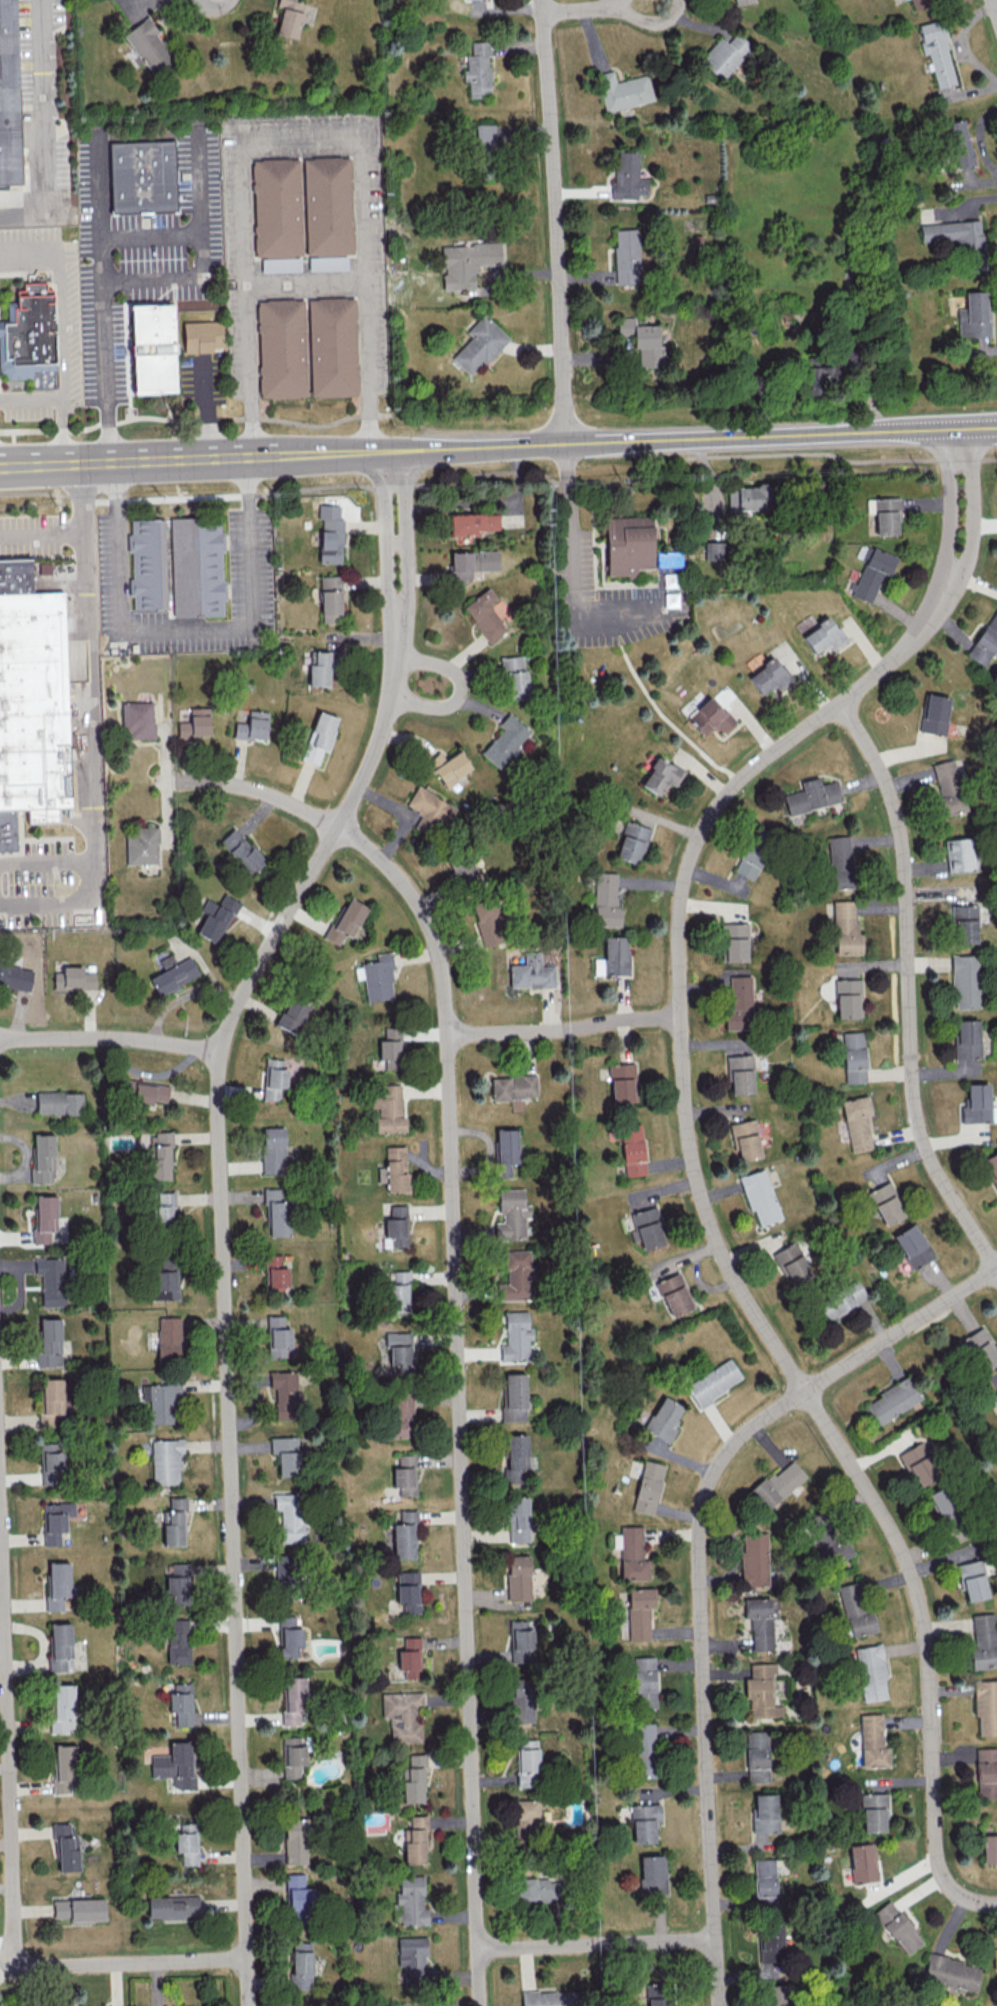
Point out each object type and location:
building: (742, 1)
building: (921, 3)
road: (597, 7)
road: (994, 7)
building: (289, 17)
building: (148, 45)
building: (937, 52)
building: (724, 55)
building: (477, 69)
building: (623, 90)
building: (8, 96)
road: (44, 129)
road: (303, 131)
building: (485, 136)
building: (959, 143)
building: (628, 175)
building: (150, 181)
building: (337, 211)
building: (285, 212)
road: (554, 221)
road: (198, 233)
building: (959, 239)
building: (626, 256)
building: (327, 262)
building: (468, 263)
building: (281, 264)
road: (167, 277)
road: (308, 280)
road: (104, 304)
building: (974, 315)
road: (65, 325)
building: (29, 327)
building: (643, 341)
building: (209, 342)
building: (479, 345)
building: (157, 353)
building: (341, 353)
building: (289, 354)
building: (817, 377)
road: (209, 410)
road: (194, 421)
road: (63, 430)
road: (11, 436)
road: (700, 438)
road: (394, 450)
road: (379, 451)
road: (751, 454)
road: (186, 458)
road: (988, 458)
road: (957, 459)
road: (487, 472)
road: (566, 481)
road: (393, 484)
road: (186, 497)
building: (749, 497)
road: (947, 506)
road: (969, 510)
building: (884, 514)
road: (386, 522)
building: (473, 523)
building: (330, 533)
road: (40, 536)
road: (405, 537)
road: (396, 543)
building: (625, 544)
building: (714, 550)
building: (471, 563)
road: (573, 566)
building: (196, 567)
building: (873, 573)
building: (330, 598)
road: (394, 608)
building: (485, 615)
road: (185, 630)
building: (823, 635)
building: (985, 641)
building: (322, 668)
building: (769, 676)
building: (513, 677)
road: (85, 681)
road: (459, 689)
building: (32, 698)
building: (934, 714)
building: (709, 716)
building: (137, 719)
building: (195, 723)
building: (252, 726)
building: (319, 736)
building: (505, 741)
building: (448, 766)
building: (660, 775)
building: (948, 788)
building: (812, 795)
building: (430, 812)
building: (632, 842)
building: (141, 845)
building: (241, 850)
building: (958, 854)
road: (44, 859)
building: (840, 862)
building: (463, 870)
building: (606, 900)
road: (46, 903)
building: (215, 917)
building: (346, 920)
building: (487, 922)
building: (964, 923)
building: (846, 928)
building: (735, 942)
building: (613, 957)
building: (531, 972)
building: (173, 973)
building: (15, 977)
building: (376, 977)
building: (73, 978)
building: (964, 981)
road: (908, 989)
building: (848, 998)
building: (738, 1002)
building: (291, 1015)
road: (565, 1031)
building: (967, 1038)
road: (110, 1039)
building: (390, 1047)
building: (854, 1056)
building: (740, 1073)
building: (273, 1078)
building: (621, 1082)
building: (513, 1089)
building: (145, 1092)
building: (59, 1102)
building: (978, 1104)
building: (387, 1107)
building: (857, 1122)
building: (746, 1139)
building: (273, 1149)
building: (632, 1149)
building: (505, 1151)
building: (159, 1155)
building: (43, 1159)
building: (991, 1166)
building: (395, 1168)
building: (760, 1197)
building: (886, 1203)
building: (165, 1208)
building: (276, 1211)
building: (512, 1213)
building: (44, 1218)
building: (395, 1227)
building: (647, 1228)
road: (715, 1235)
building: (912, 1245)
building: (792, 1264)
building: (275, 1275)
building: (515, 1276)
building: (51, 1279)
building: (165, 1285)
building: (398, 1292)
road: (224, 1294)
building: (674, 1294)
building: (840, 1300)
road: (454, 1311)
building: (516, 1336)
building: (277, 1337)
building: (170, 1338)
building: (49, 1343)
building: (979, 1349)
building: (399, 1352)
building: (713, 1382)
building: (996, 1393)
building: (285, 1394)
building: (514, 1397)
building: (892, 1400)
building: (161, 1402)
building: (55, 1404)
building: (400, 1414)
building: (664, 1418)
building: (286, 1454)
building: (515, 1457)
building: (166, 1461)
building: (920, 1463)
building: (52, 1467)
building: (405, 1475)
building: (778, 1483)
building: (648, 1487)
building: (941, 1502)
building: (289, 1516)
building: (518, 1518)
building: (55, 1521)
building: (173, 1522)
building: (404, 1535)
building: (827, 1537)
building: (631, 1552)
building: (754, 1561)
road: (700, 1562)
building: (286, 1568)
building: (518, 1577)
building: (972, 1580)
building: (178, 1584)
building: (57, 1585)
building: (408, 1590)
building: (856, 1610)
building: (640, 1612)
building: (285, 1621)
building: (760, 1622)
building: (177, 1640)
building: (290, 1641)
building: (521, 1641)
building: (983, 1642)
building: (60, 1647)
building: (410, 1657)
building: (871, 1672)
building: (644, 1682)
building: (761, 1690)
building: (292, 1699)
building: (521, 1700)
building: (181, 1703)
building: (985, 1706)
building: (62, 1708)
building: (403, 1715)
building: (872, 1741)
building: (643, 1750)
building: (292, 1756)
building: (756, 1756)
building: (527, 1762)
building: (174, 1765)
building: (63, 1769)
building: (986, 1772)
building: (413, 1779)
building: (765, 1812)
building: (873, 1812)
building: (525, 1819)
building: (644, 1822)
building: (295, 1840)
building: (414, 1840)
building: (187, 1843)
building: (65, 1845)
building: (989, 1848)
road: (14, 1856)
building: (862, 1862)
building: (652, 1874)
building: (764, 1877)
building: (537, 1889)
building: (298, 1892)
building: (411, 1901)
building: (172, 1906)
building: (79, 1909)
building: (897, 1926)
building: (771, 1942)
road: (597, 1945)
building: (412, 1957)
building: (994, 1958)
building: (300, 1965)
building: (951, 1972)
building: (657, 1993)
building: (777, 1995)
building: (549, 1998)

